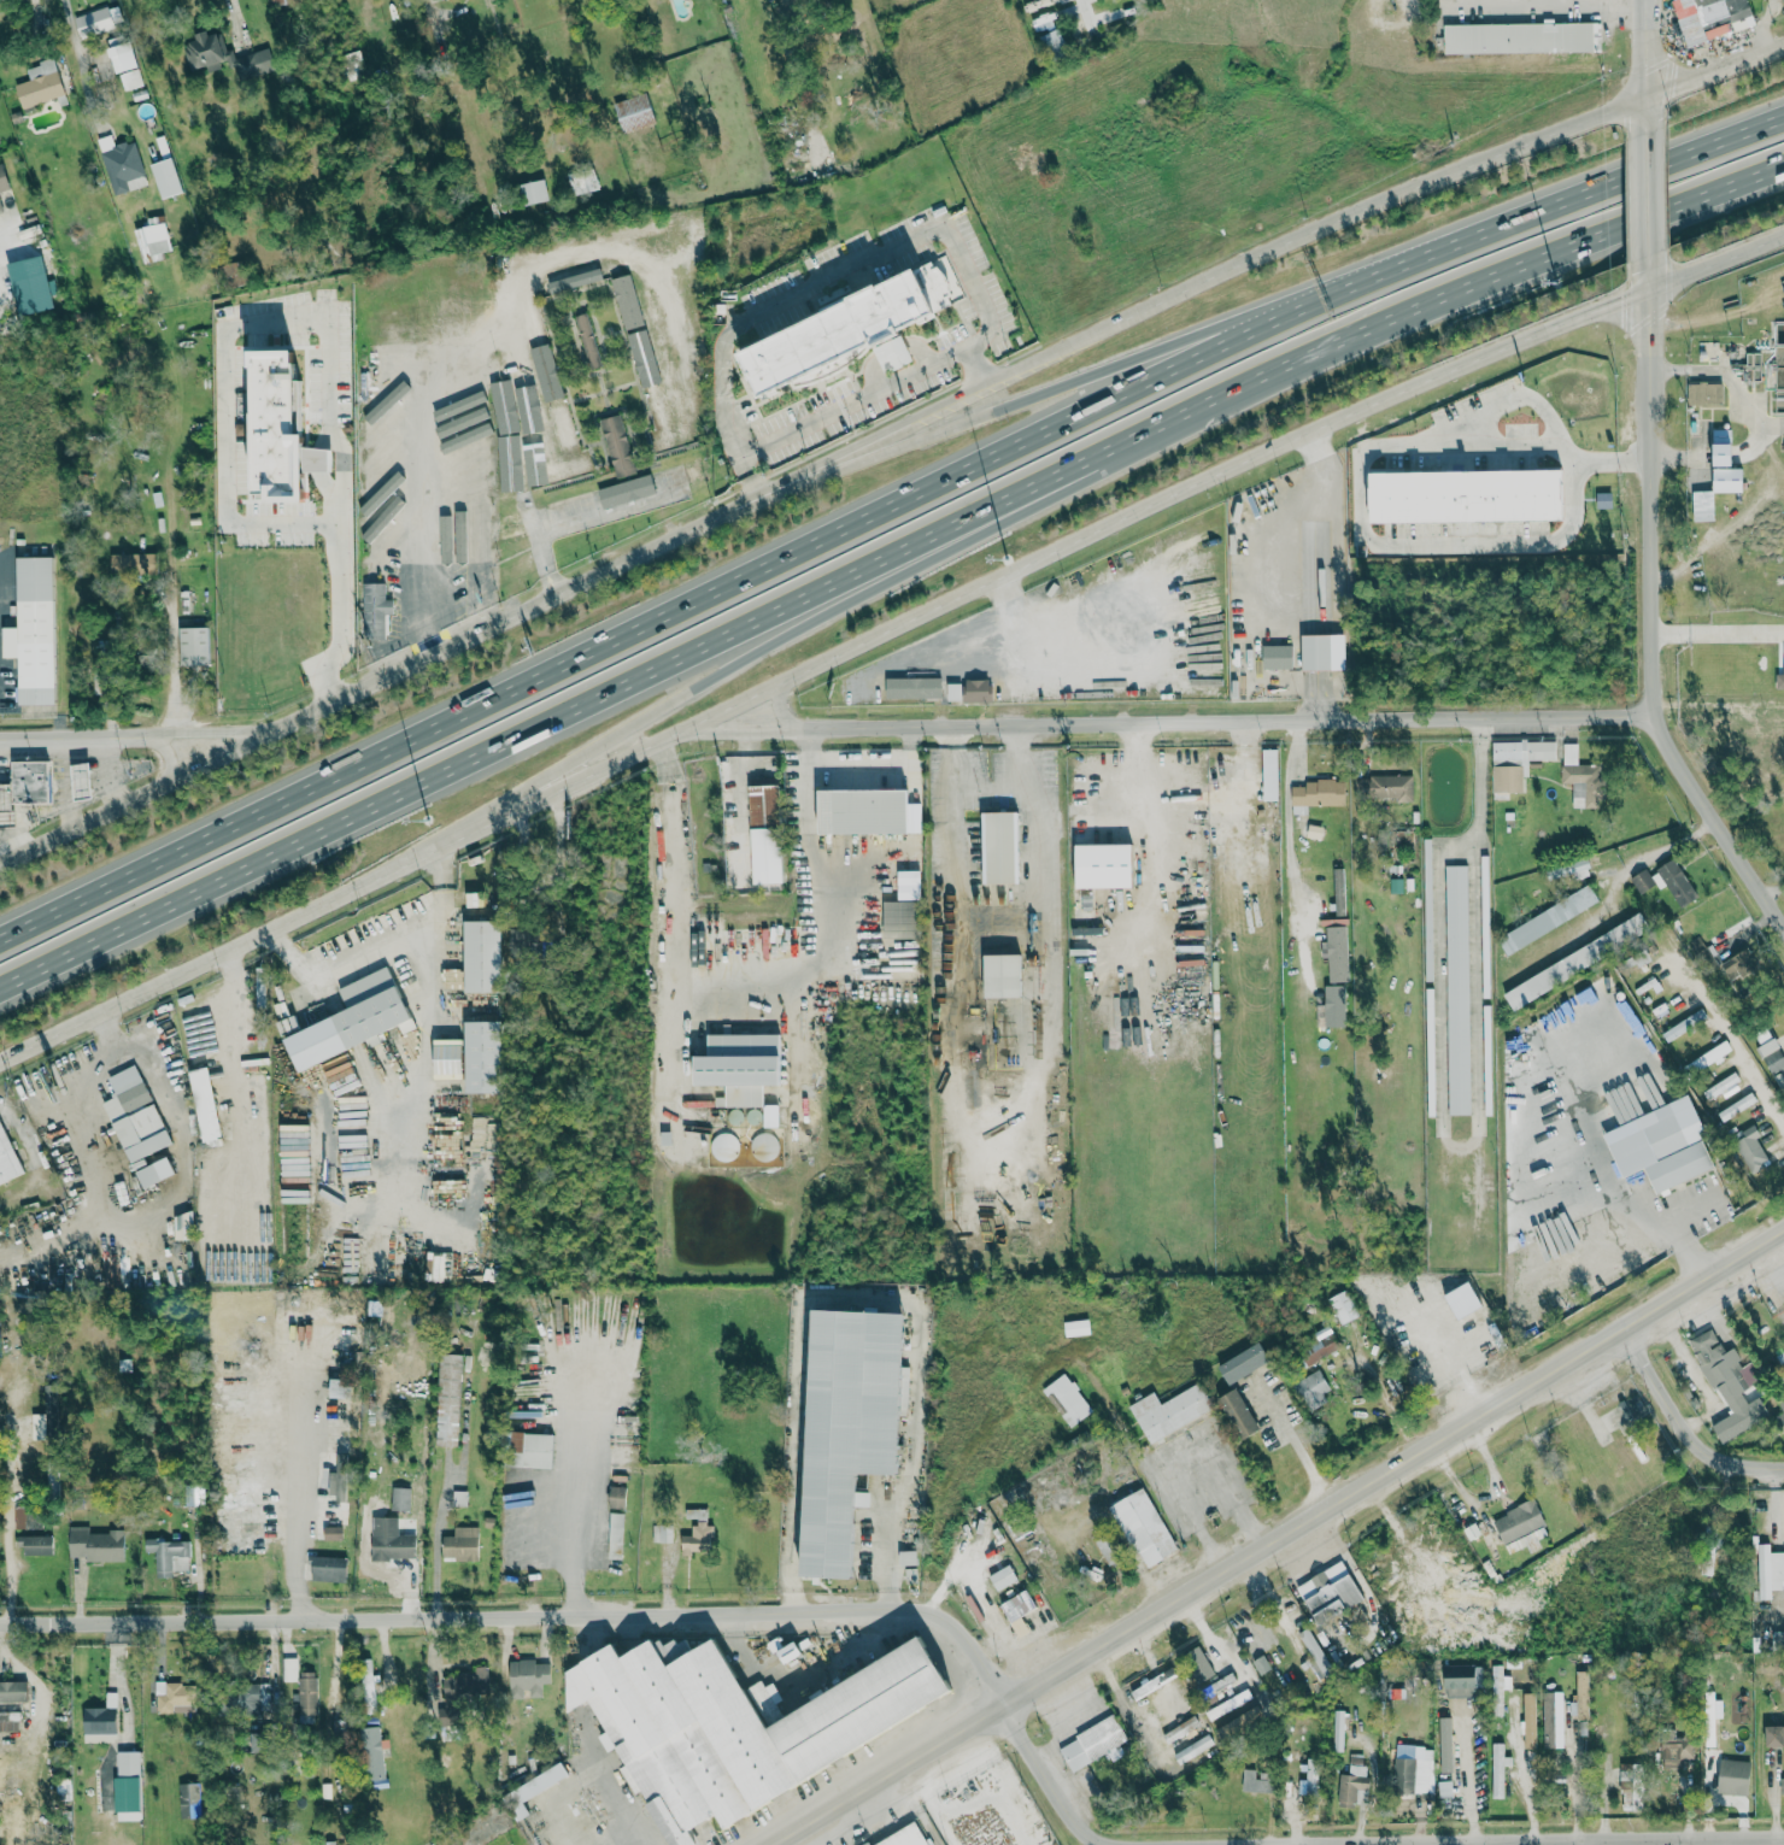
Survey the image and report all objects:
road: (1551, 1)
building: (276, 2)
building: (1040, 4)
building: (1719, 14)
road: (236, 17)
building: (98, 20)
building: (1518, 36)
building: (1052, 41)
building: (205, 49)
road: (81, 63)
building: (252, 63)
building: (124, 64)
road: (1645, 65)
building: (39, 83)
building: (634, 112)
building: (121, 164)
building: (165, 177)
road: (1450, 177)
building: (2, 178)
building: (585, 180)
building: (534, 190)
road: (1645, 194)
building: (0, 208)
road: (1561, 208)
building: (152, 239)
road: (615, 252)
road: (870, 262)
building: (231, 274)
building: (571, 277)
building: (30, 283)
building: (650, 296)
building: (627, 301)
building: (674, 307)
building: (534, 327)
road: (299, 329)
building: (849, 333)
building: (587, 340)
building: (410, 348)
road: (926, 354)
road: (896, 356)
building: (644, 359)
road: (875, 377)
building: (466, 384)
road: (1080, 386)
building: (501, 388)
road: (1518, 389)
building: (1704, 393)
road: (973, 399)
road: (852, 400)
building: (680, 415)
building: (662, 421)
building: (562, 425)
building: (381, 427)
building: (278, 428)
building: (463, 435)
building: (529, 440)
building: (617, 445)
road: (1315, 447)
building: (466, 453)
building: (1727, 459)
building: (382, 462)
building: (507, 464)
road: (1315, 466)
building: (564, 469)
building: (468, 472)
building: (680, 474)
road: (750, 478)
road: (422, 480)
building: (1469, 488)
building: (468, 489)
building: (628, 492)
building: (382, 493)
building: (1608, 498)
building: (1707, 501)
building: (395, 503)
building: (569, 506)
building: (512, 523)
building: (374, 527)
road: (1114, 527)
building: (460, 531)
building: (476, 531)
building: (444, 536)
road: (1406, 545)
road: (1316, 553)
building: (392, 557)
building: (133, 563)
road: (886, 563)
building: (375, 609)
road: (171, 613)
road: (1649, 613)
road: (668, 615)
building: (33, 630)
road: (1715, 631)
building: (193, 645)
road: (1318, 651)
building: (1324, 651)
road: (776, 652)
building: (1277, 656)
road: (410, 668)
building: (1779, 681)
building: (912, 687)
building: (969, 691)
road: (1319, 694)
road: (1716, 706)
road: (1484, 717)
road: (879, 722)
road: (1170, 723)
road: (140, 731)
road: (751, 748)
building: (1516, 762)
road: (834, 766)
road: (107, 771)
building: (1269, 774)
building: (1581, 777)
building: (29, 781)
building: (81, 781)
road: (68, 782)
road: (1480, 783)
road: (739, 785)
building: (1383, 787)
road: (953, 789)
building: (1318, 794)
road: (811, 805)
road: (1126, 806)
road: (1236, 806)
road: (1289, 810)
building: (862, 811)
building: (765, 834)
road: (1677, 840)
building: (999, 847)
building: (1104, 865)
building: (1575, 869)
building: (1666, 882)
road: (364, 888)
road: (1772, 889)
building: (1339, 891)
building: (900, 919)
building: (1548, 919)
road: (1041, 933)
building: (529, 940)
road: (378, 947)
road: (1169, 951)
building: (1337, 952)
building: (482, 956)
building: (1738, 964)
building: (1002, 975)
building: (1457, 989)
road: (694, 998)
road: (135, 1000)
building: (1668, 1001)
building: (352, 1021)
building: (1684, 1024)
road: (1731, 1040)
building: (1771, 1053)
building: (482, 1057)
building: (1708, 1058)
building: (740, 1065)
building: (1721, 1086)
building: (204, 1104)
building: (1737, 1106)
building: (134, 1117)
building: (723, 1146)
building: (764, 1146)
building: (1662, 1146)
building: (1750, 1147)
building: (7, 1158)
building: (154, 1171)
road: (1653, 1185)
road: (133, 1222)
building: (183, 1226)
building: (435, 1268)
building: (1343, 1308)
building: (1076, 1328)
building: (1319, 1347)
building: (1724, 1359)
building: (1243, 1363)
building: (905, 1383)
building: (1313, 1388)
building: (1782, 1397)
building: (447, 1399)
building: (1067, 1399)
building: (49, 1400)
building: (1169, 1411)
building: (1238, 1414)
building: (1741, 1420)
building: (1782, 1420)
road: (1685, 1423)
building: (849, 1428)
road: (1296, 1438)
road: (1129, 1440)
building: (530, 1450)
road: (1180, 1456)
road: (884, 1459)
road: (303, 1476)
road: (576, 1480)
building: (336, 1486)
building: (617, 1497)
building: (400, 1499)
building: (696, 1514)
building: (19, 1518)
building: (1518, 1521)
building: (1144, 1528)
building: (331, 1533)
building: (662, 1533)
building: (615, 1535)
building: (698, 1539)
road: (1281, 1539)
building: (391, 1540)
building: (35, 1545)
building: (95, 1545)
building: (460, 1545)
building: (1107, 1549)
building: (169, 1556)
building: (908, 1558)
building: (327, 1569)
building: (1770, 1571)
building: (1328, 1592)
building: (1017, 1611)
road: (949, 1617)
road: (386, 1656)
building: (289, 1668)
road: (1160, 1675)
building: (527, 1677)
building: (1462, 1679)
building: (365, 1681)
building: (466, 1684)
building: (1581, 1687)
building: (1498, 1688)
building: (12, 1691)
building: (306, 1696)
building: (175, 1697)
building: (1240, 1698)
building: (245, 1699)
building: (1550, 1718)
building: (1530, 1720)
building: (8, 1721)
building: (100, 1721)
building: (735, 1722)
building: (1338, 1729)
building: (1774, 1734)
building: (1093, 1744)
building: (1677, 1747)
building: (371, 1752)
building: (1448, 1753)
road: (594, 1767)
building: (1498, 1768)
road: (1577, 1773)
building: (1412, 1774)
building: (1733, 1776)
building: (1309, 1778)
building: (1352, 1779)
building: (127, 1780)
building: (1255, 1780)
road: (1608, 1782)
building: (1782, 1784)
road: (1528, 1786)
building: (1631, 1786)
building: (533, 1787)
building: (1445, 1787)
building: (189, 1799)
building: (903, 1837)
building: (328, 1843)

